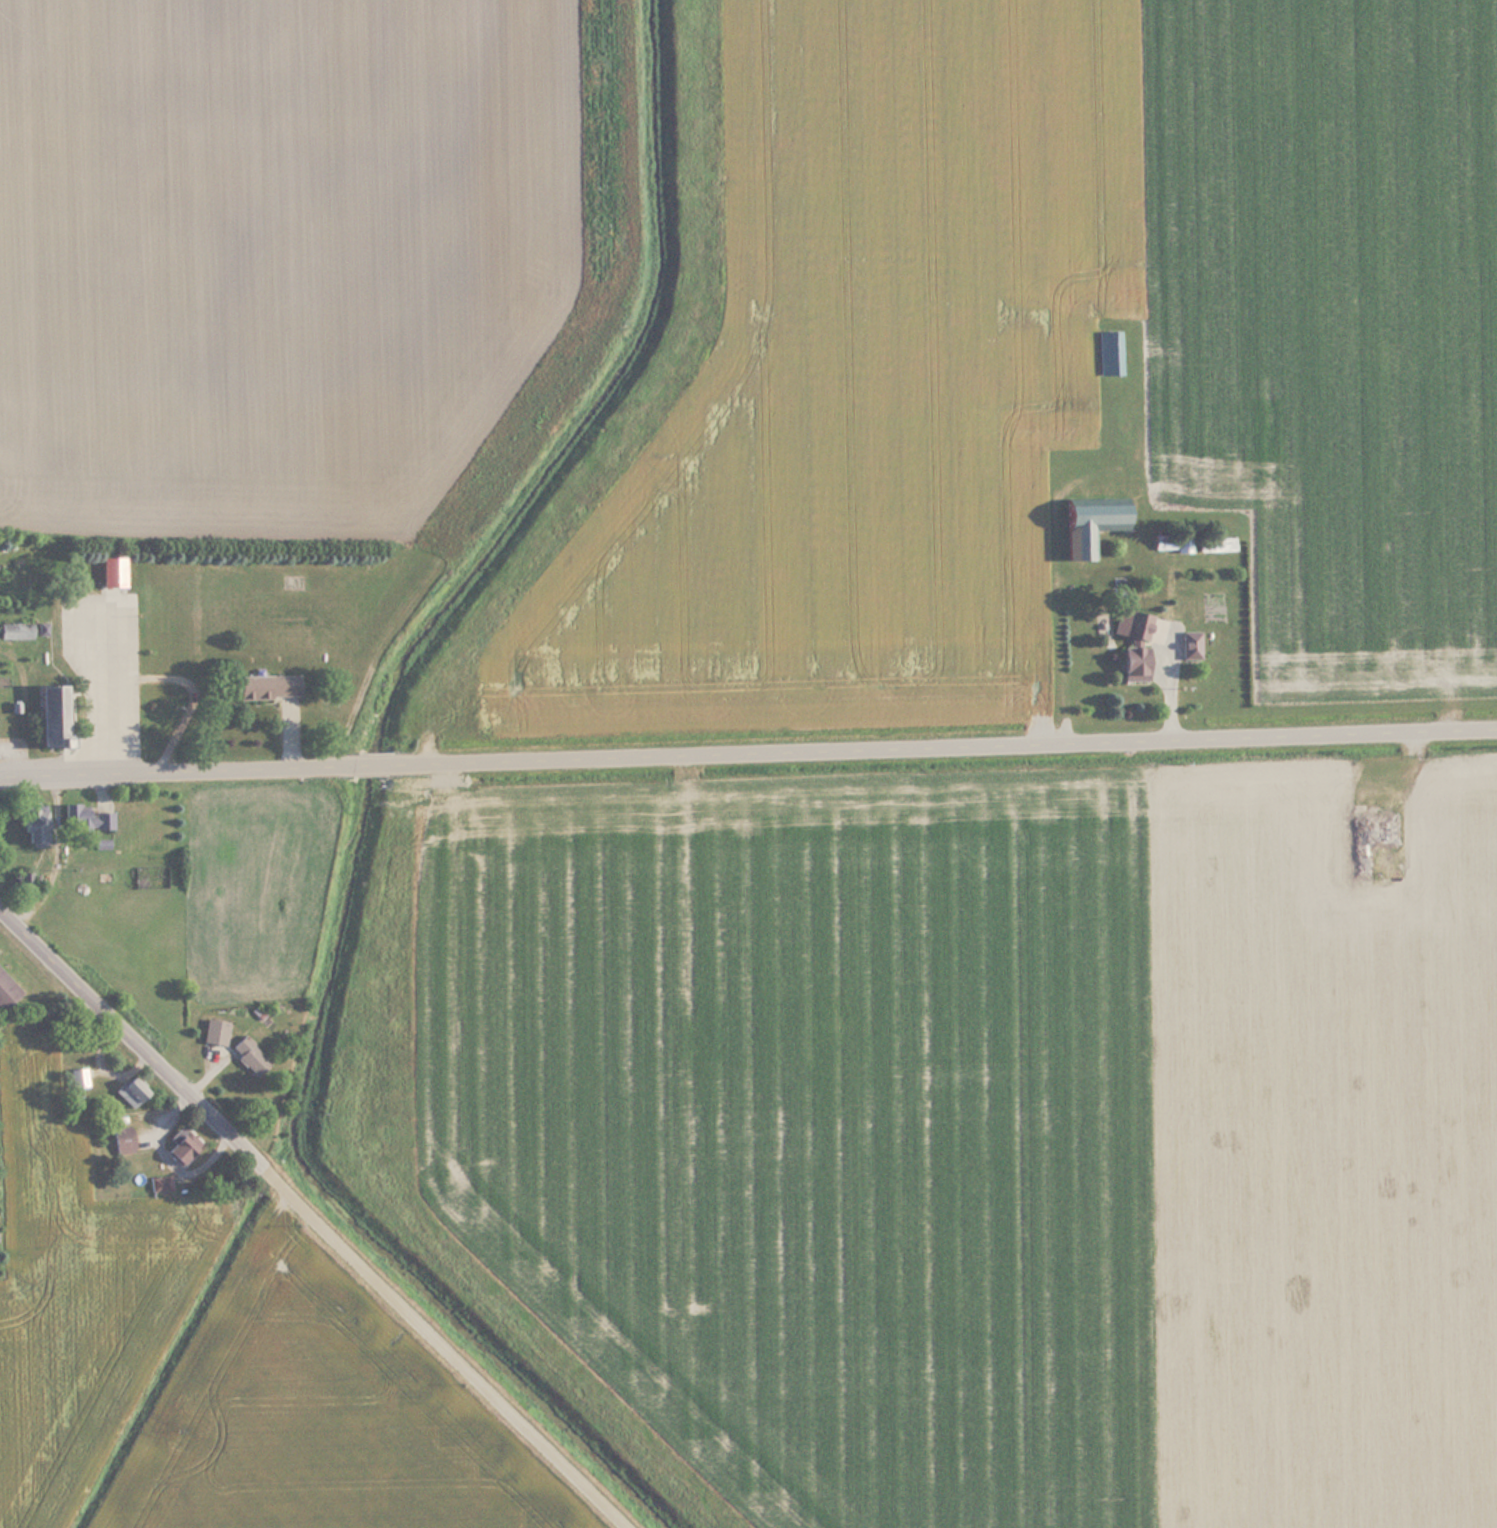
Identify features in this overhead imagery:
building: (1107, 351)
building: (1086, 521)
building: (1171, 542)
building: (1130, 623)
building: (5, 630)
building: (1189, 644)
building: (1131, 662)
road: (1166, 679)
building: (265, 685)
building: (48, 714)
road: (947, 747)
road: (373, 764)
road: (174, 769)
building: (85, 818)
building: (32, 824)
building: (1369, 840)
building: (100, 843)
building: (23, 883)
building: (6, 990)
building: (213, 1031)
building: (247, 1055)
building: (77, 1078)
building: (128, 1091)
building: (120, 1139)
building: (178, 1145)
building: (157, 1183)
road: (321, 1216)

